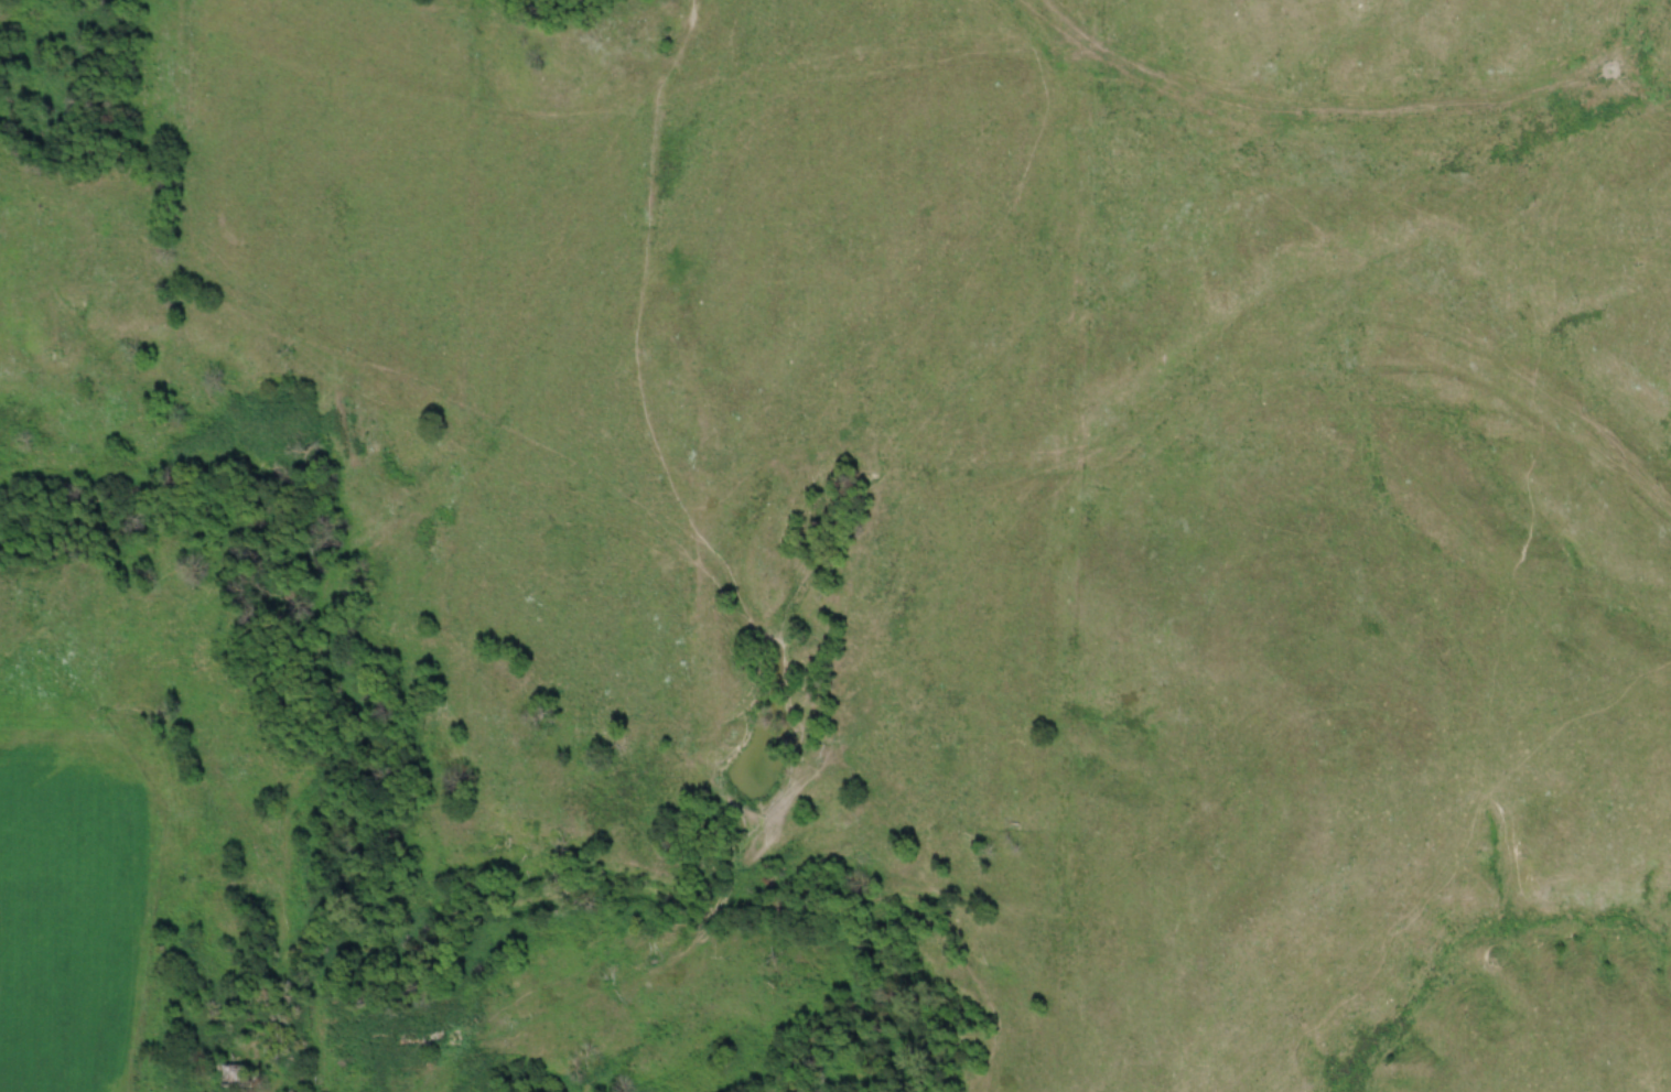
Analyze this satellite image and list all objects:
building: (235, 1078)

